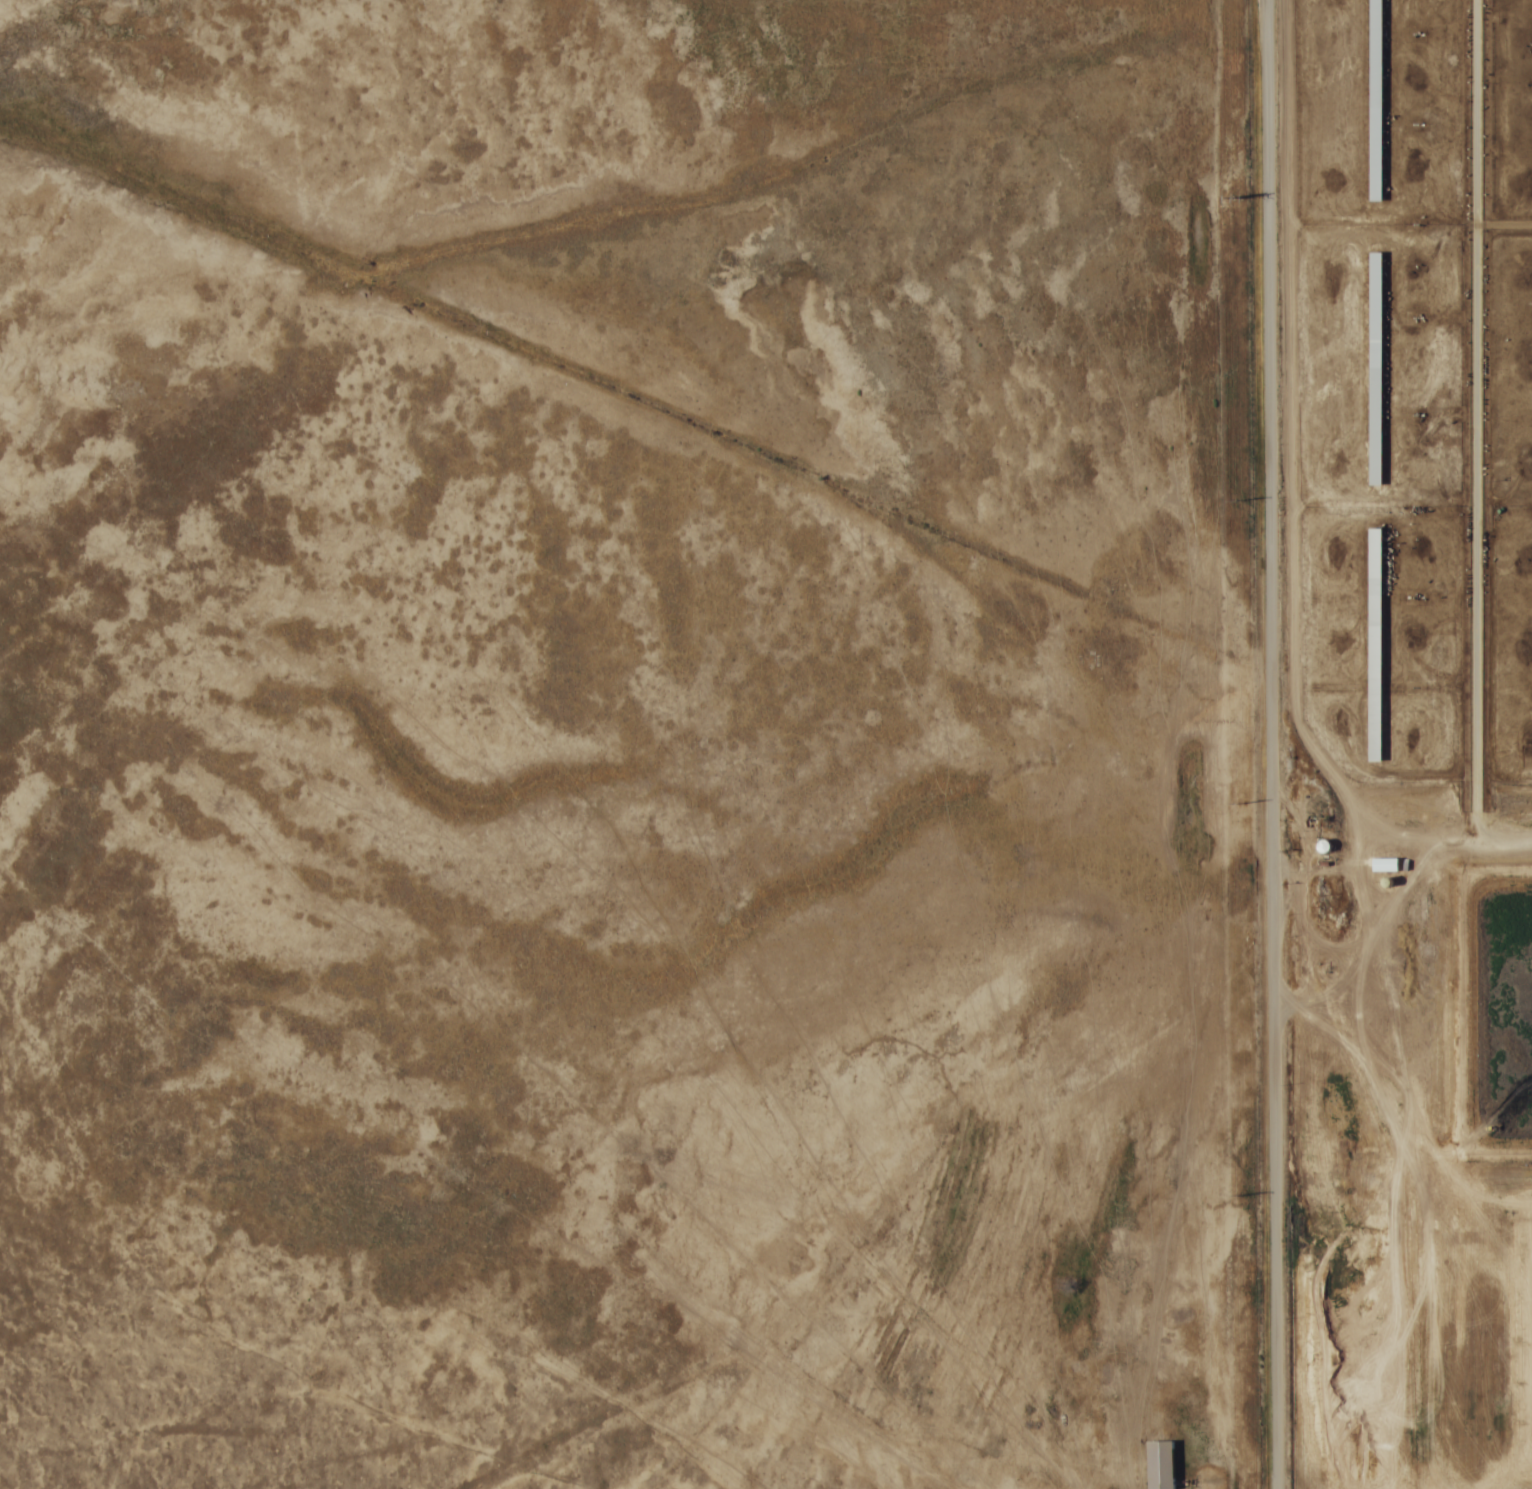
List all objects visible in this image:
building: (1374, 99)
power tower: (1236, 189)
building: (1374, 366)
power tower: (1239, 498)
building: (1374, 643)
road: (1269, 744)
building: (1414, 796)
power tower: (1240, 801)
building: (1384, 863)
power tower: (1241, 1193)
building: (1159, 1463)

